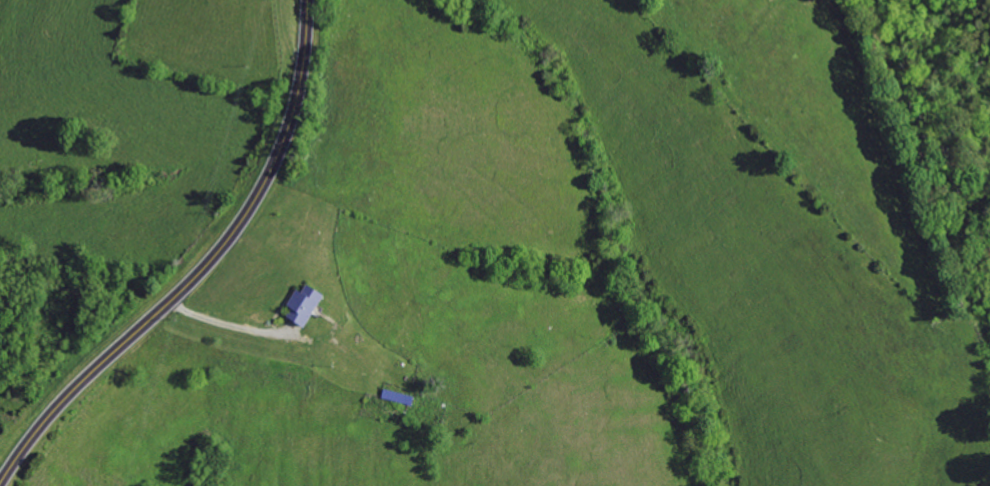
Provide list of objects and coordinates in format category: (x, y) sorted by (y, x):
road: (201, 268)
building: (301, 305)
road: (282, 336)
building: (395, 397)

